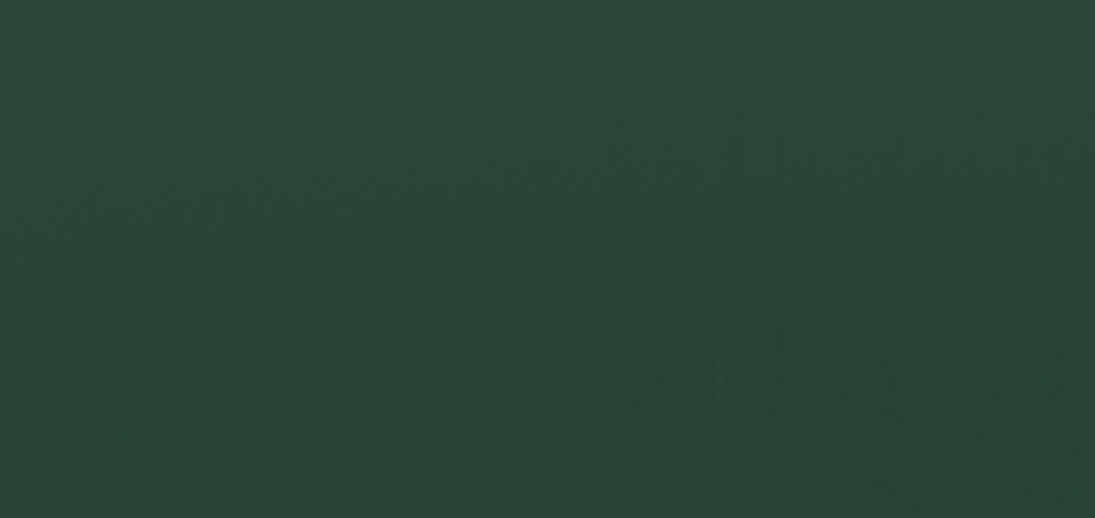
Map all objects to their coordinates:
river: (864, 258)

